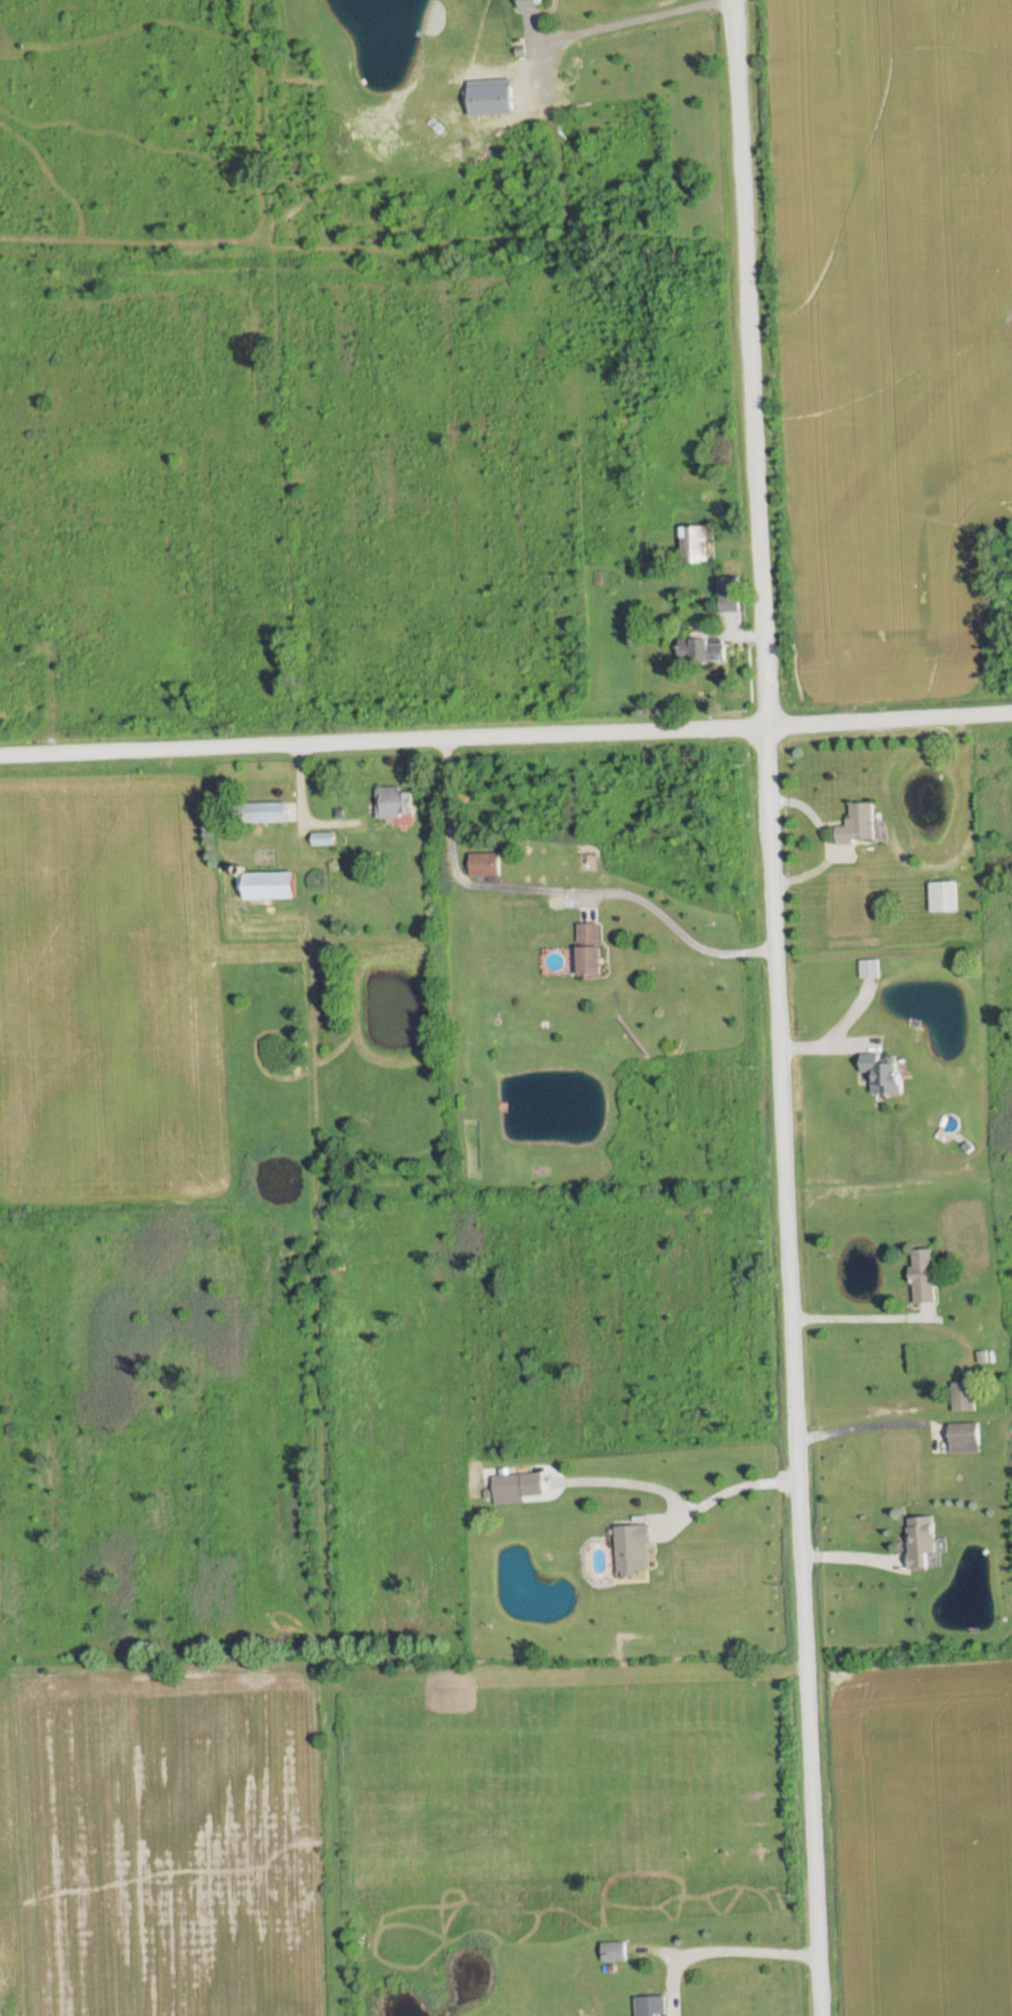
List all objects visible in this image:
building: (531, 4)
road: (627, 19)
building: (695, 545)
building: (729, 596)
building: (703, 648)
road: (506, 736)
building: (394, 803)
building: (269, 813)
building: (859, 825)
building: (324, 839)
building: (480, 865)
road: (561, 880)
building: (269, 886)
building: (944, 897)
building: (591, 950)
road: (777, 1007)
building: (884, 1075)
building: (923, 1275)
road: (860, 1311)
building: (961, 1401)
road: (861, 1429)
building: (965, 1437)
building: (508, 1488)
road: (728, 1493)
building: (922, 1542)
building: (634, 1548)
road: (741, 1950)
building: (614, 1951)
building: (651, 2006)

